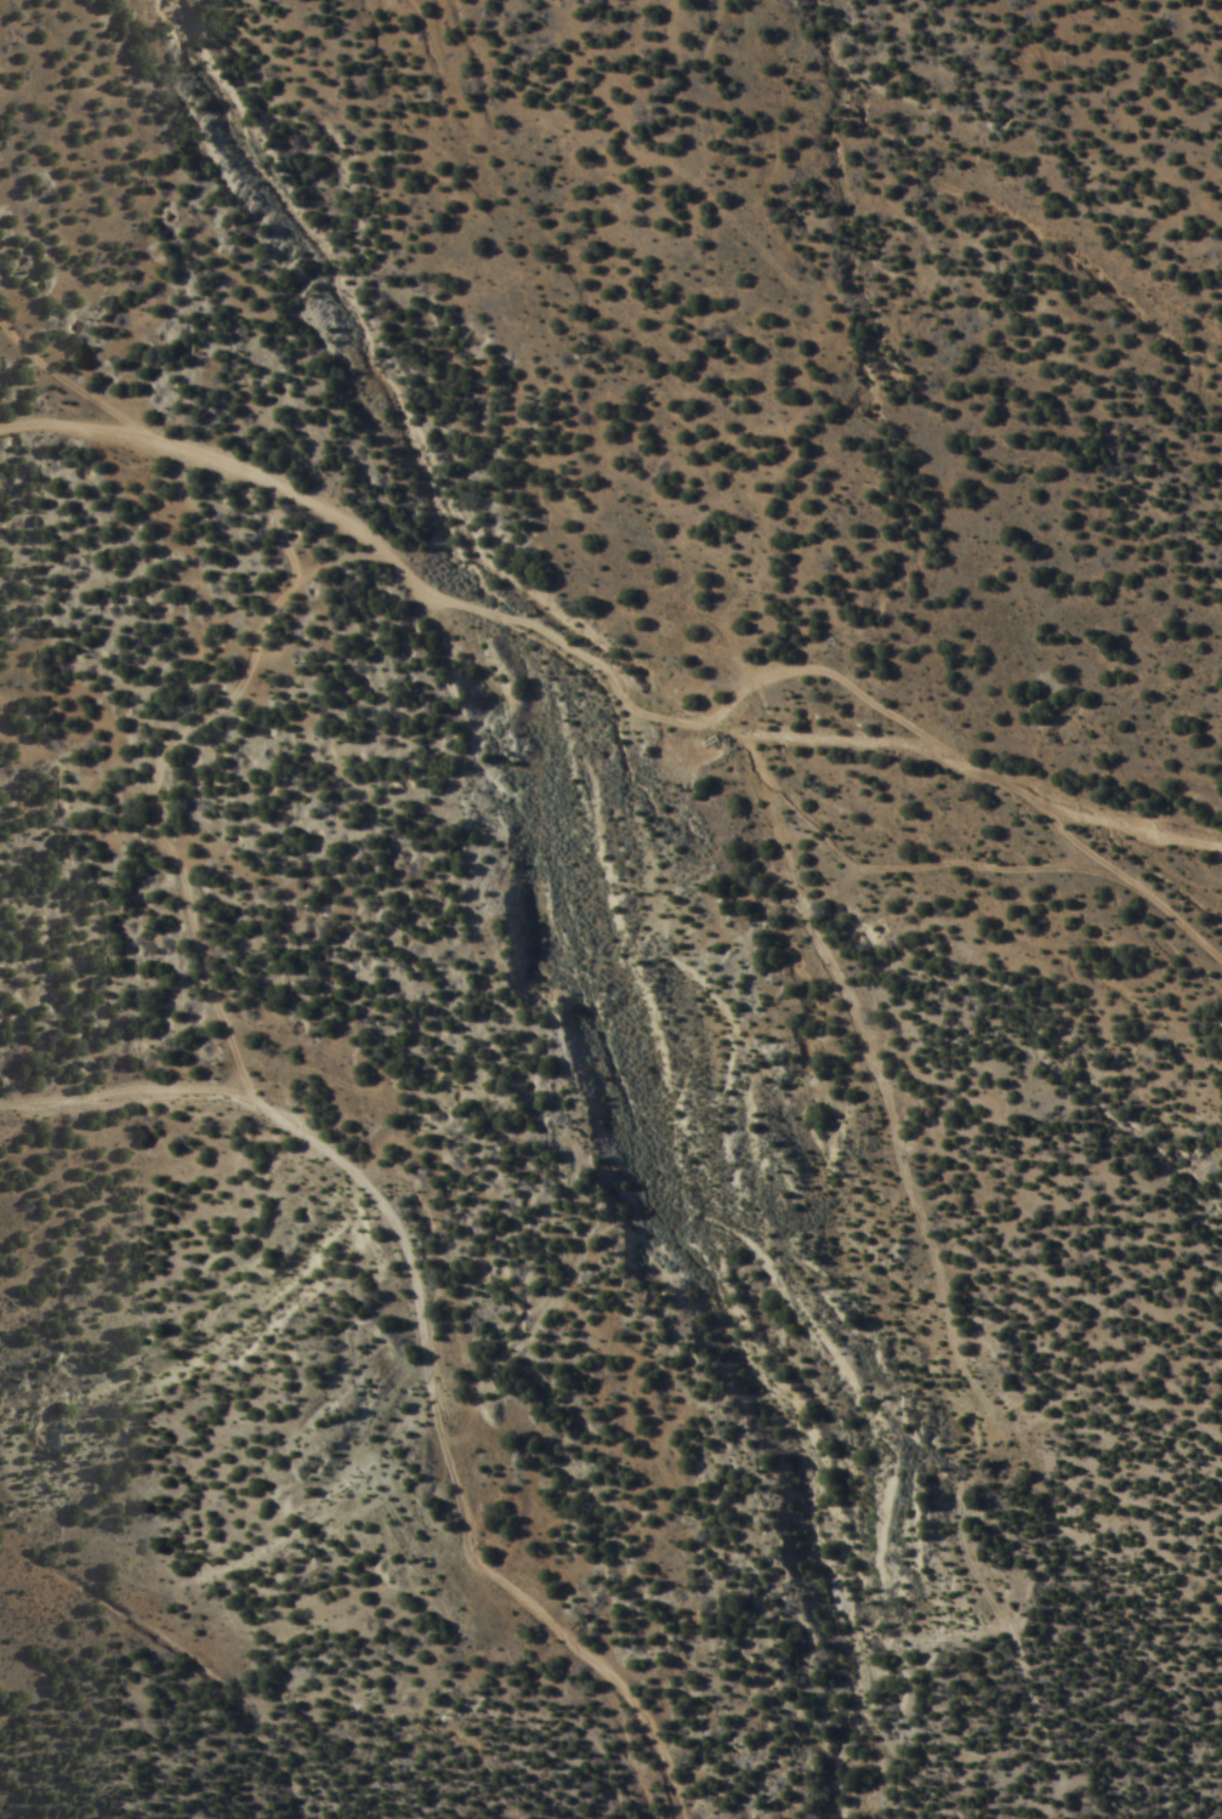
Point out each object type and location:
road: (601, 694)
road: (985, 956)

